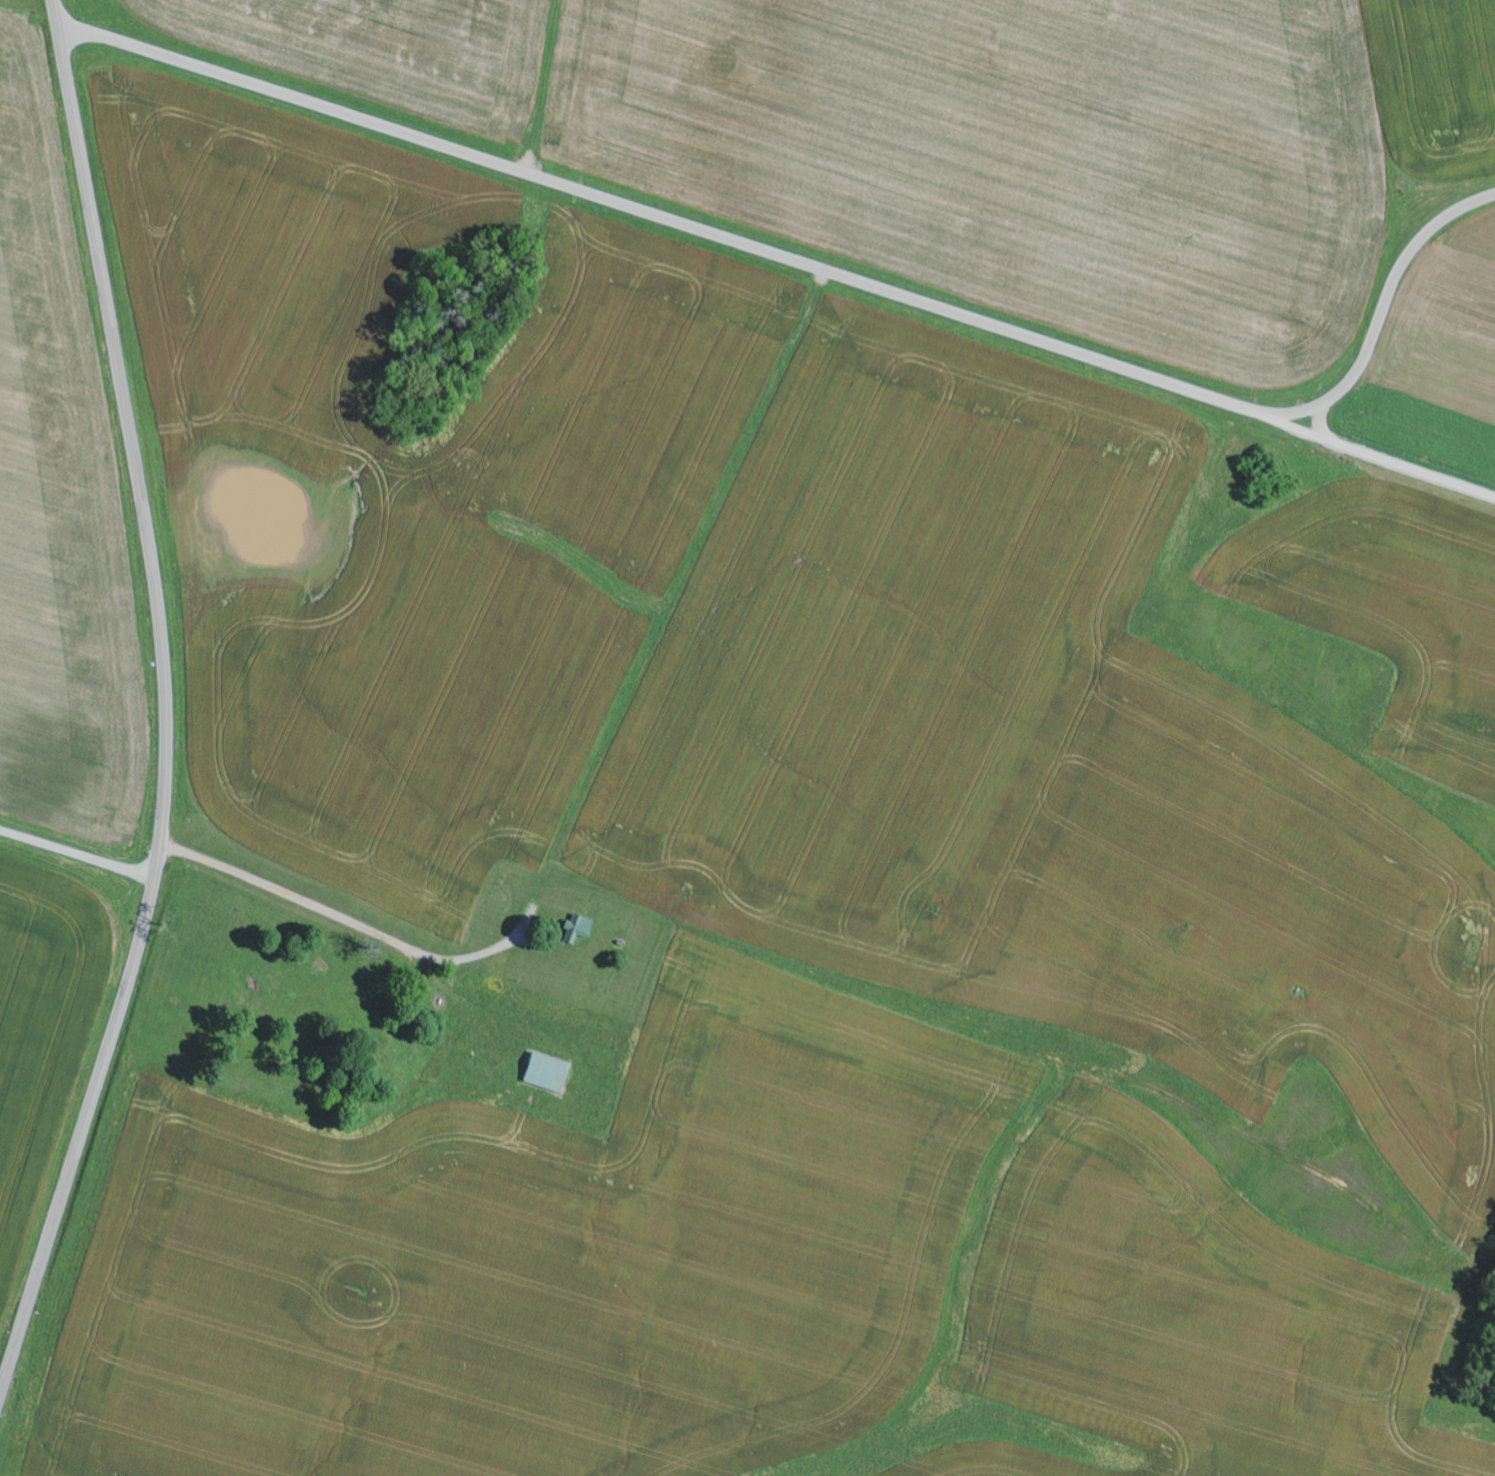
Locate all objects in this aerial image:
road: (823, 271)
road: (1294, 430)
road: (1392, 467)
road: (166, 705)
road: (585, 768)
road: (77, 856)
building: (550, 1074)

